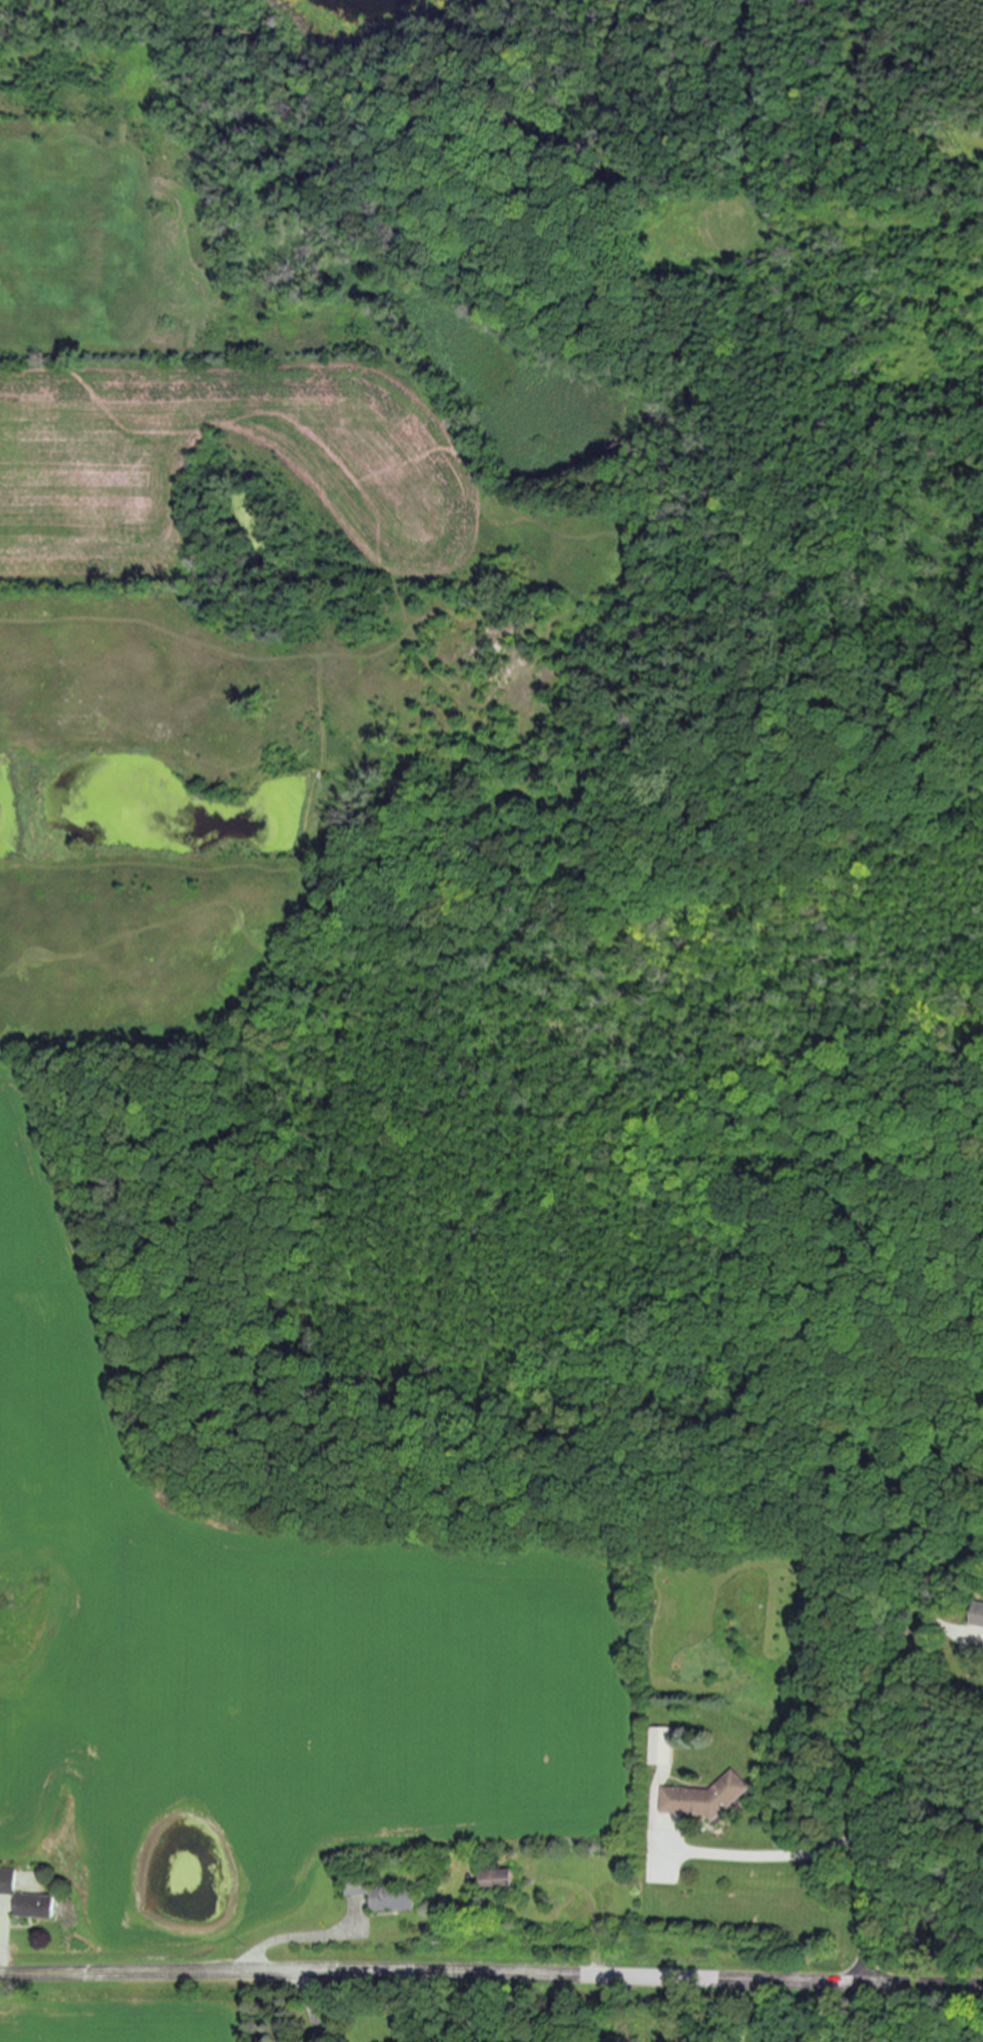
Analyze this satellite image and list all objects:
building: (977, 1615)
building: (658, 1747)
road: (880, 1752)
building: (702, 1799)
road: (767, 1855)
building: (497, 1880)
building: (7, 1883)
building: (392, 1900)
building: (32, 1907)
road: (293, 1939)
road: (4, 1943)
road: (491, 1970)
road: (309, 2006)
road: (758, 2011)

